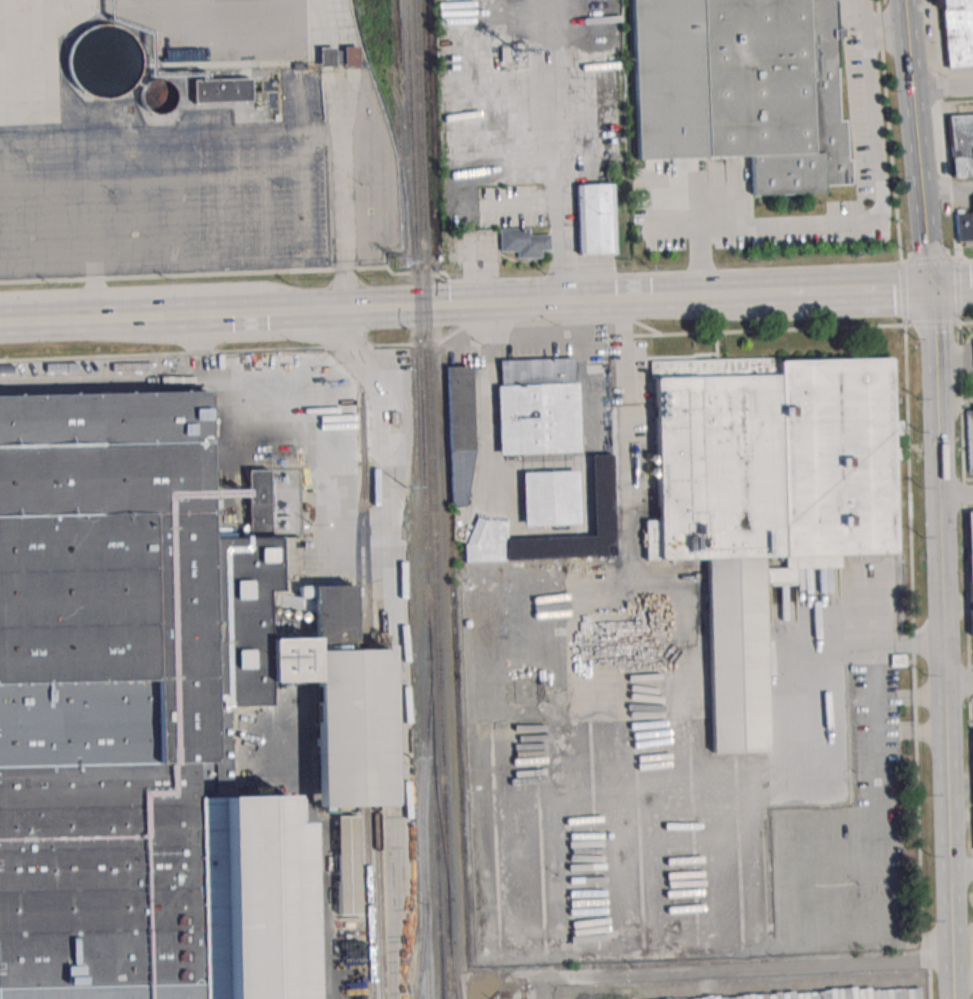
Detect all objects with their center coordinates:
road: (908, 32)
building: (957, 32)
building: (350, 56)
road: (943, 87)
building: (221, 90)
building: (778, 96)
railway: (394, 100)
road: (215, 133)
road: (43, 137)
building: (961, 145)
road: (947, 186)
building: (595, 218)
road: (346, 221)
road: (879, 225)
building: (964, 226)
road: (89, 229)
building: (523, 242)
power tower: (401, 263)
road: (696, 265)
road: (483, 279)
road: (951, 288)
traffic signals: (930, 290)
road: (845, 292)
road: (692, 299)
road: (525, 306)
road: (213, 318)
railway: (427, 324)
road: (953, 403)
building: (537, 405)
railway: (322, 422)
building: (459, 436)
building: (601, 487)
power tower: (406, 488)
building: (549, 498)
road: (955, 498)
railway: (425, 499)
road: (938, 499)
building: (767, 503)
railway: (421, 554)
building: (970, 566)
road: (958, 684)
railway: (371, 697)
building: (138, 712)
building: (352, 727)
building: (972, 730)
railway: (363, 739)
road: (690, 743)
power tower: (411, 758)
railway: (445, 823)
railway: (441, 833)
railway: (423, 836)
building: (347, 865)
road: (960, 871)
railway: (426, 963)
road: (736, 968)
railway: (452, 983)

